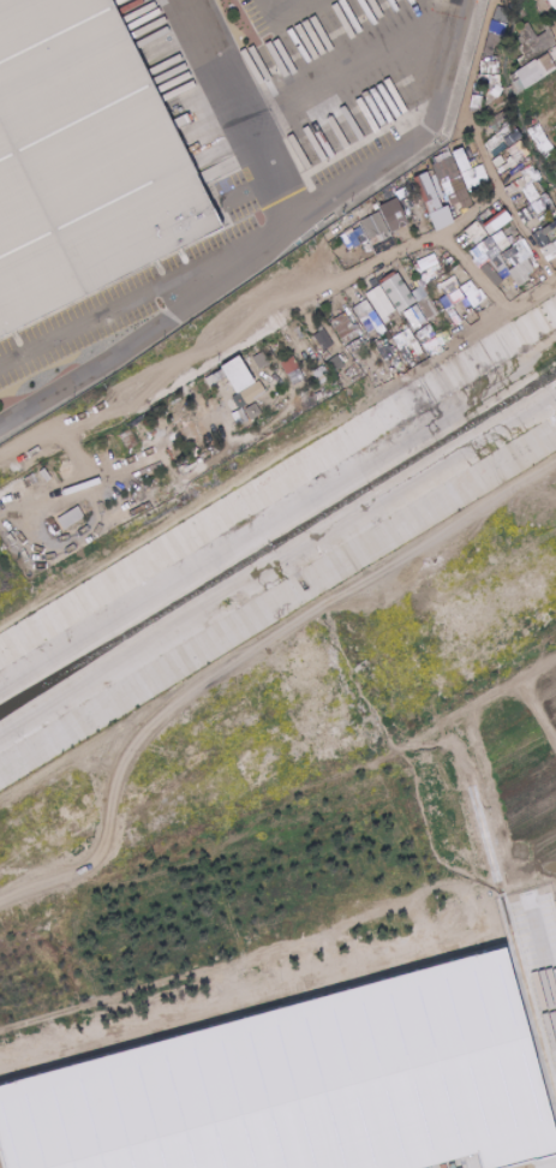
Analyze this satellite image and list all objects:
crop: (546, 690)
parking lot: (539, 970)
parking lot: (448, 1160)

